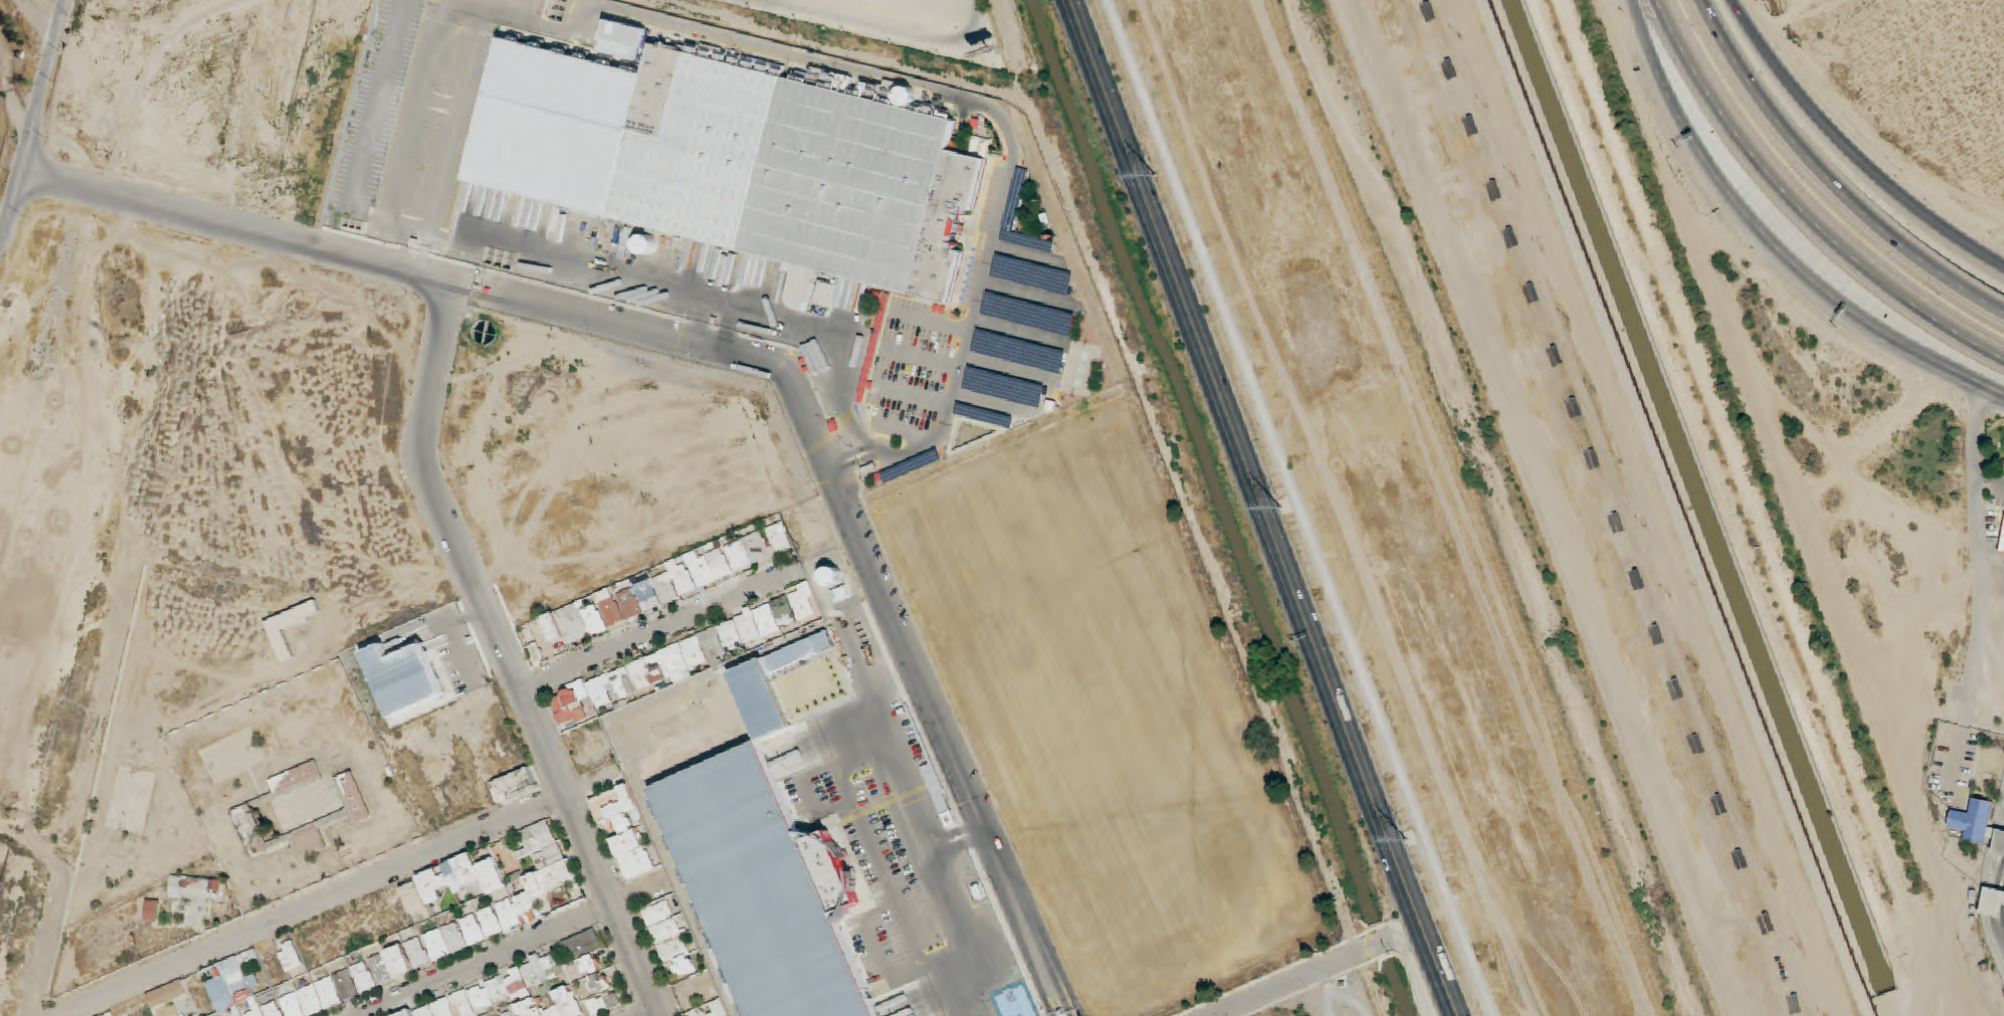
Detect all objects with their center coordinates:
road: (768, 3)
road: (953, 6)
road: (884, 33)
building: (625, 37)
road: (806, 48)
road: (158, 70)
road: (998, 90)
road: (386, 94)
road: (32, 121)
road: (460, 139)
road: (1849, 152)
building: (786, 170)
power tower: (1155, 175)
road: (1827, 180)
road: (405, 185)
road: (1797, 210)
building: (1018, 217)
road: (392, 218)
road: (1062, 224)
road: (232, 232)
road: (1769, 244)
road: (427, 255)
road: (1035, 260)
road: (982, 286)
road: (1031, 302)
road: (933, 323)
road: (728, 330)
road: (1023, 335)
road: (923, 359)
road: (1009, 372)
road: (1072, 374)
road: (914, 399)
road: (995, 403)
road: (908, 439)
road: (850, 460)
road: (1174, 477)
road: (1989, 482)
river: (1502, 503)
power tower: (1281, 506)
road: (1263, 507)
road: (1309, 507)
road: (857, 532)
building: (2002, 543)
road: (1979, 559)
building: (678, 582)
building: (770, 615)
road: (660, 628)
road: (759, 653)
road: (509, 656)
building: (612, 691)
park: (1104, 707)
road: (1956, 760)
road: (901, 766)
parking lot: (1953, 766)
road: (809, 800)
building: (610, 802)
building: (1972, 820)
road: (959, 832)
power tower: (1407, 838)
building: (1999, 843)
road: (966, 847)
road: (912, 854)
building: (642, 861)
road: (877, 868)
road: (1985, 879)
building: (761, 887)
road: (1991, 888)
road: (684, 889)
building: (1992, 901)
road: (967, 922)
road: (875, 951)
road: (1411, 958)
road: (1288, 984)
road: (952, 987)
road: (1336, 990)
road: (1300, 998)

